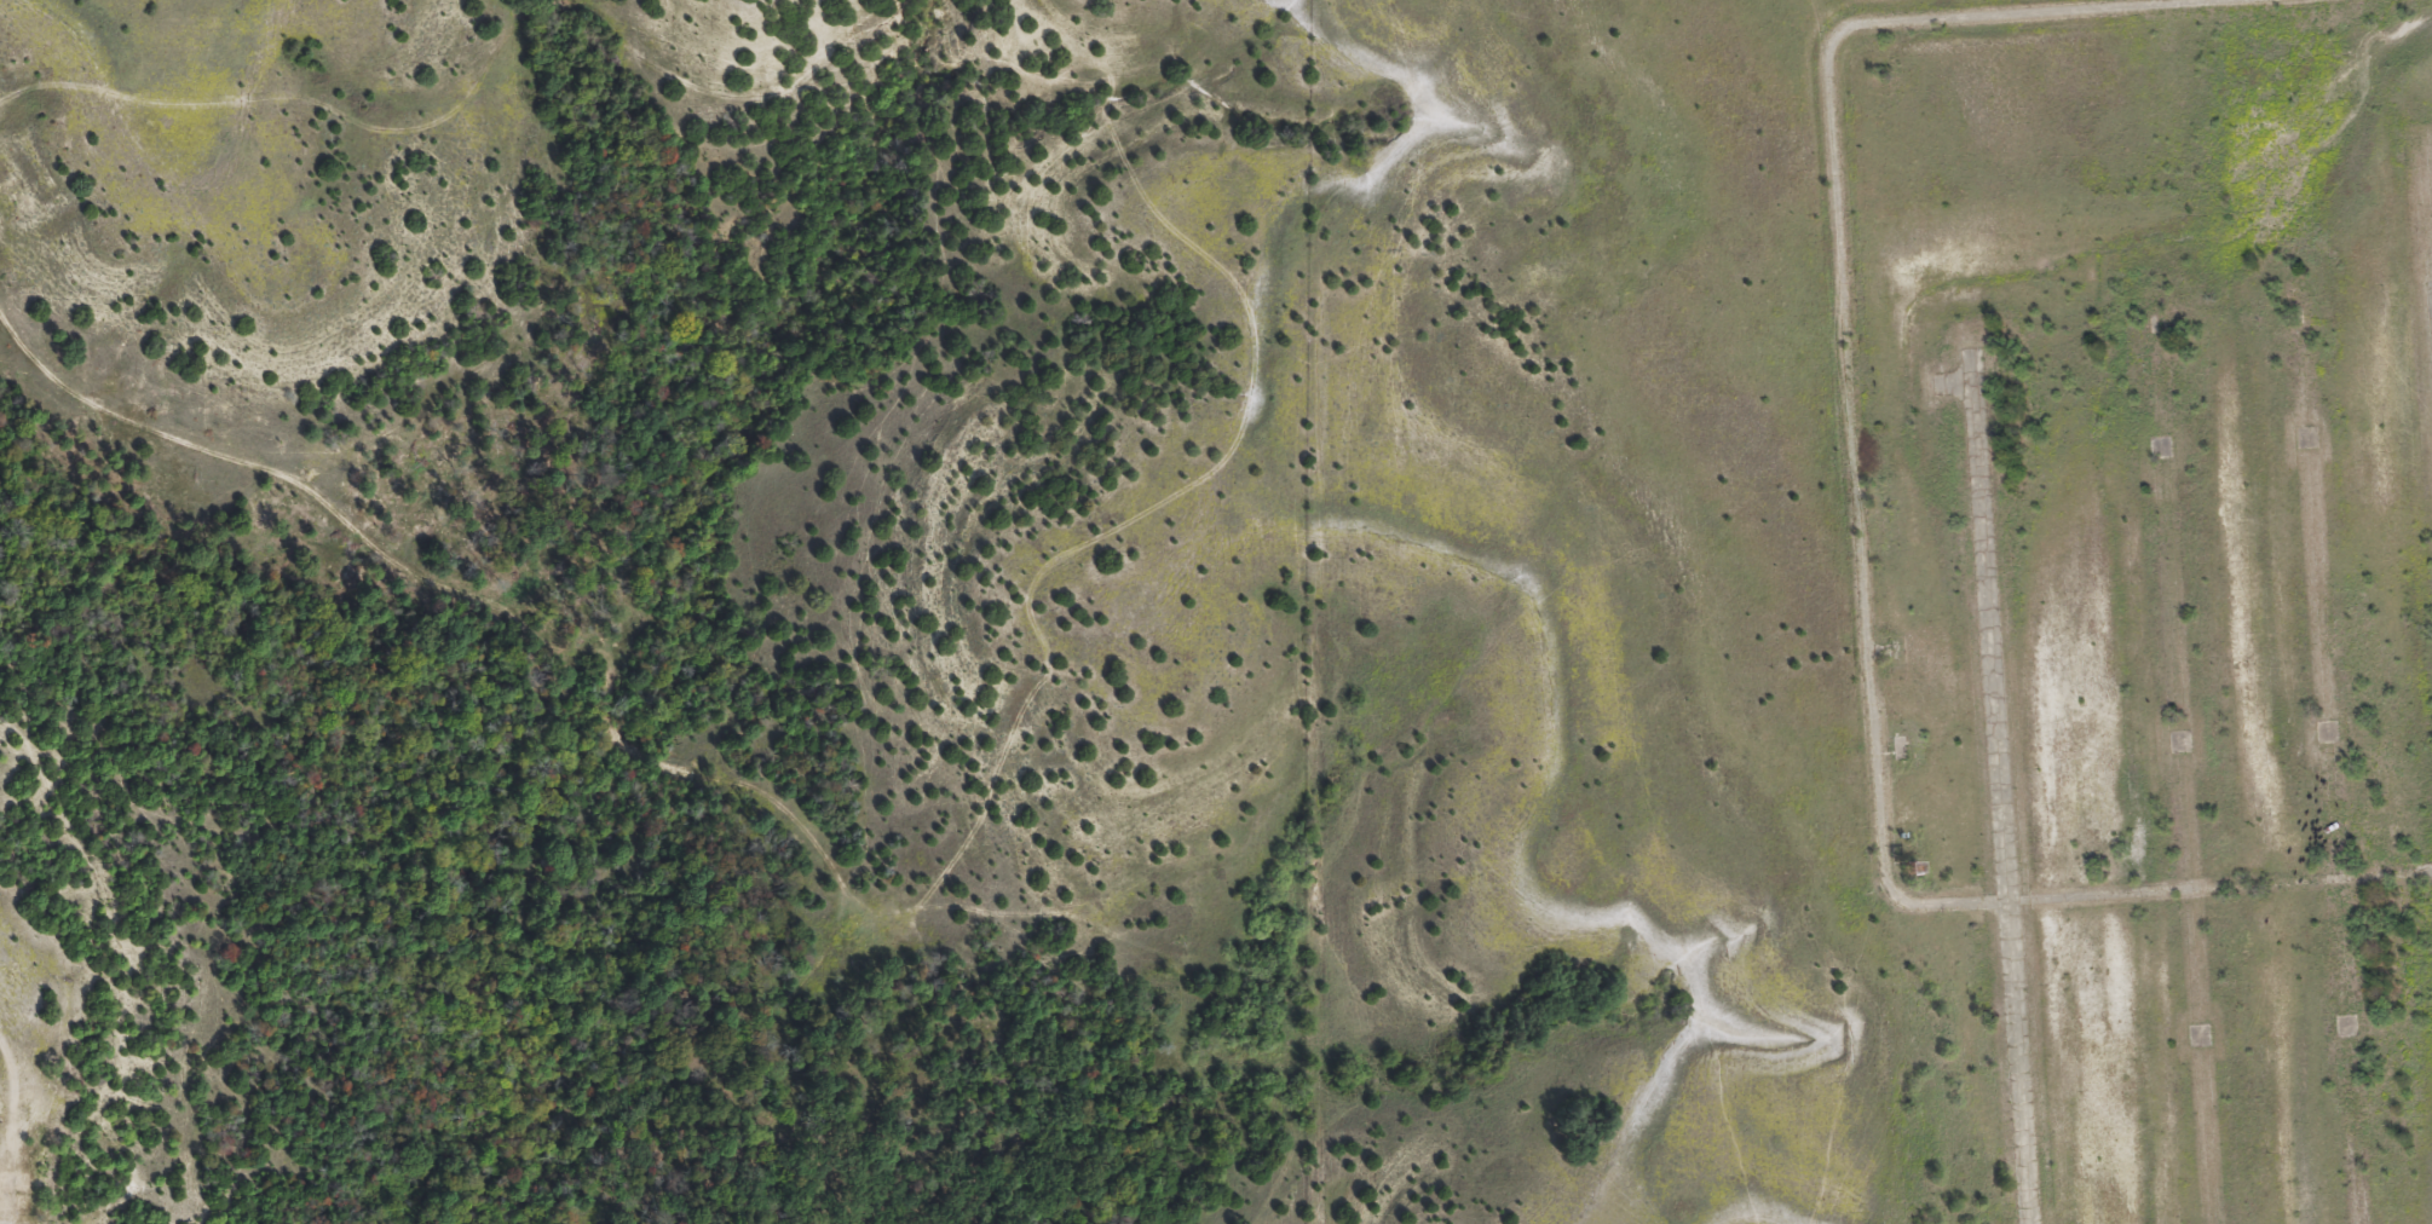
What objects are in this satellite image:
airport: (2125, 602)
road: (2254, 775)

